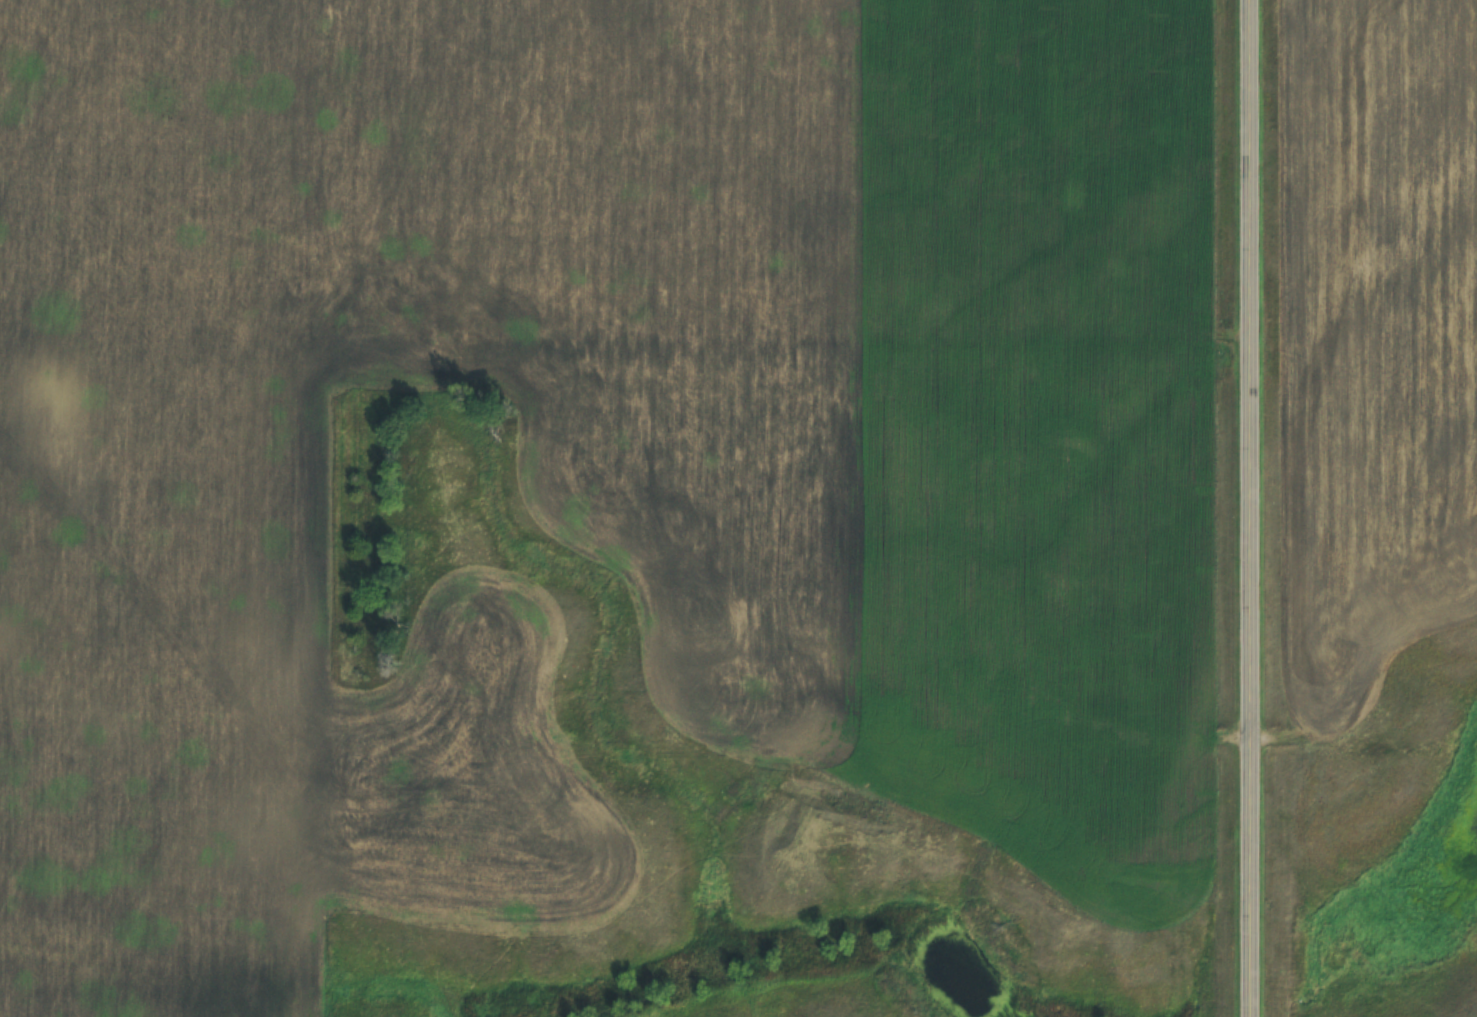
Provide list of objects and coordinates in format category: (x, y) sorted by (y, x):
road: (1249, 508)

